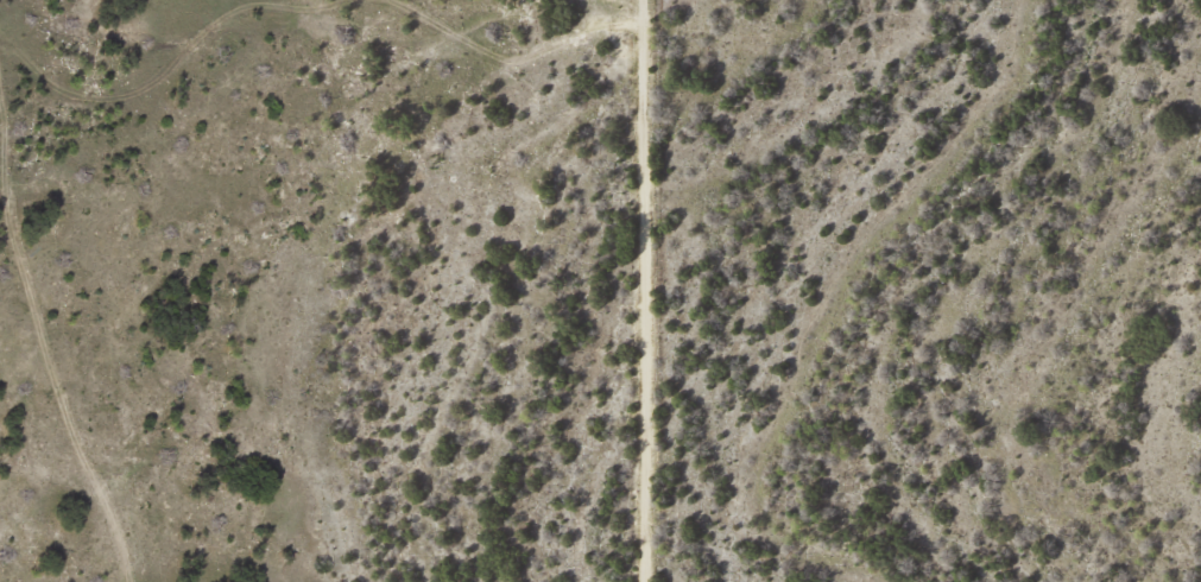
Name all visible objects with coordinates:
road: (615, 291)

